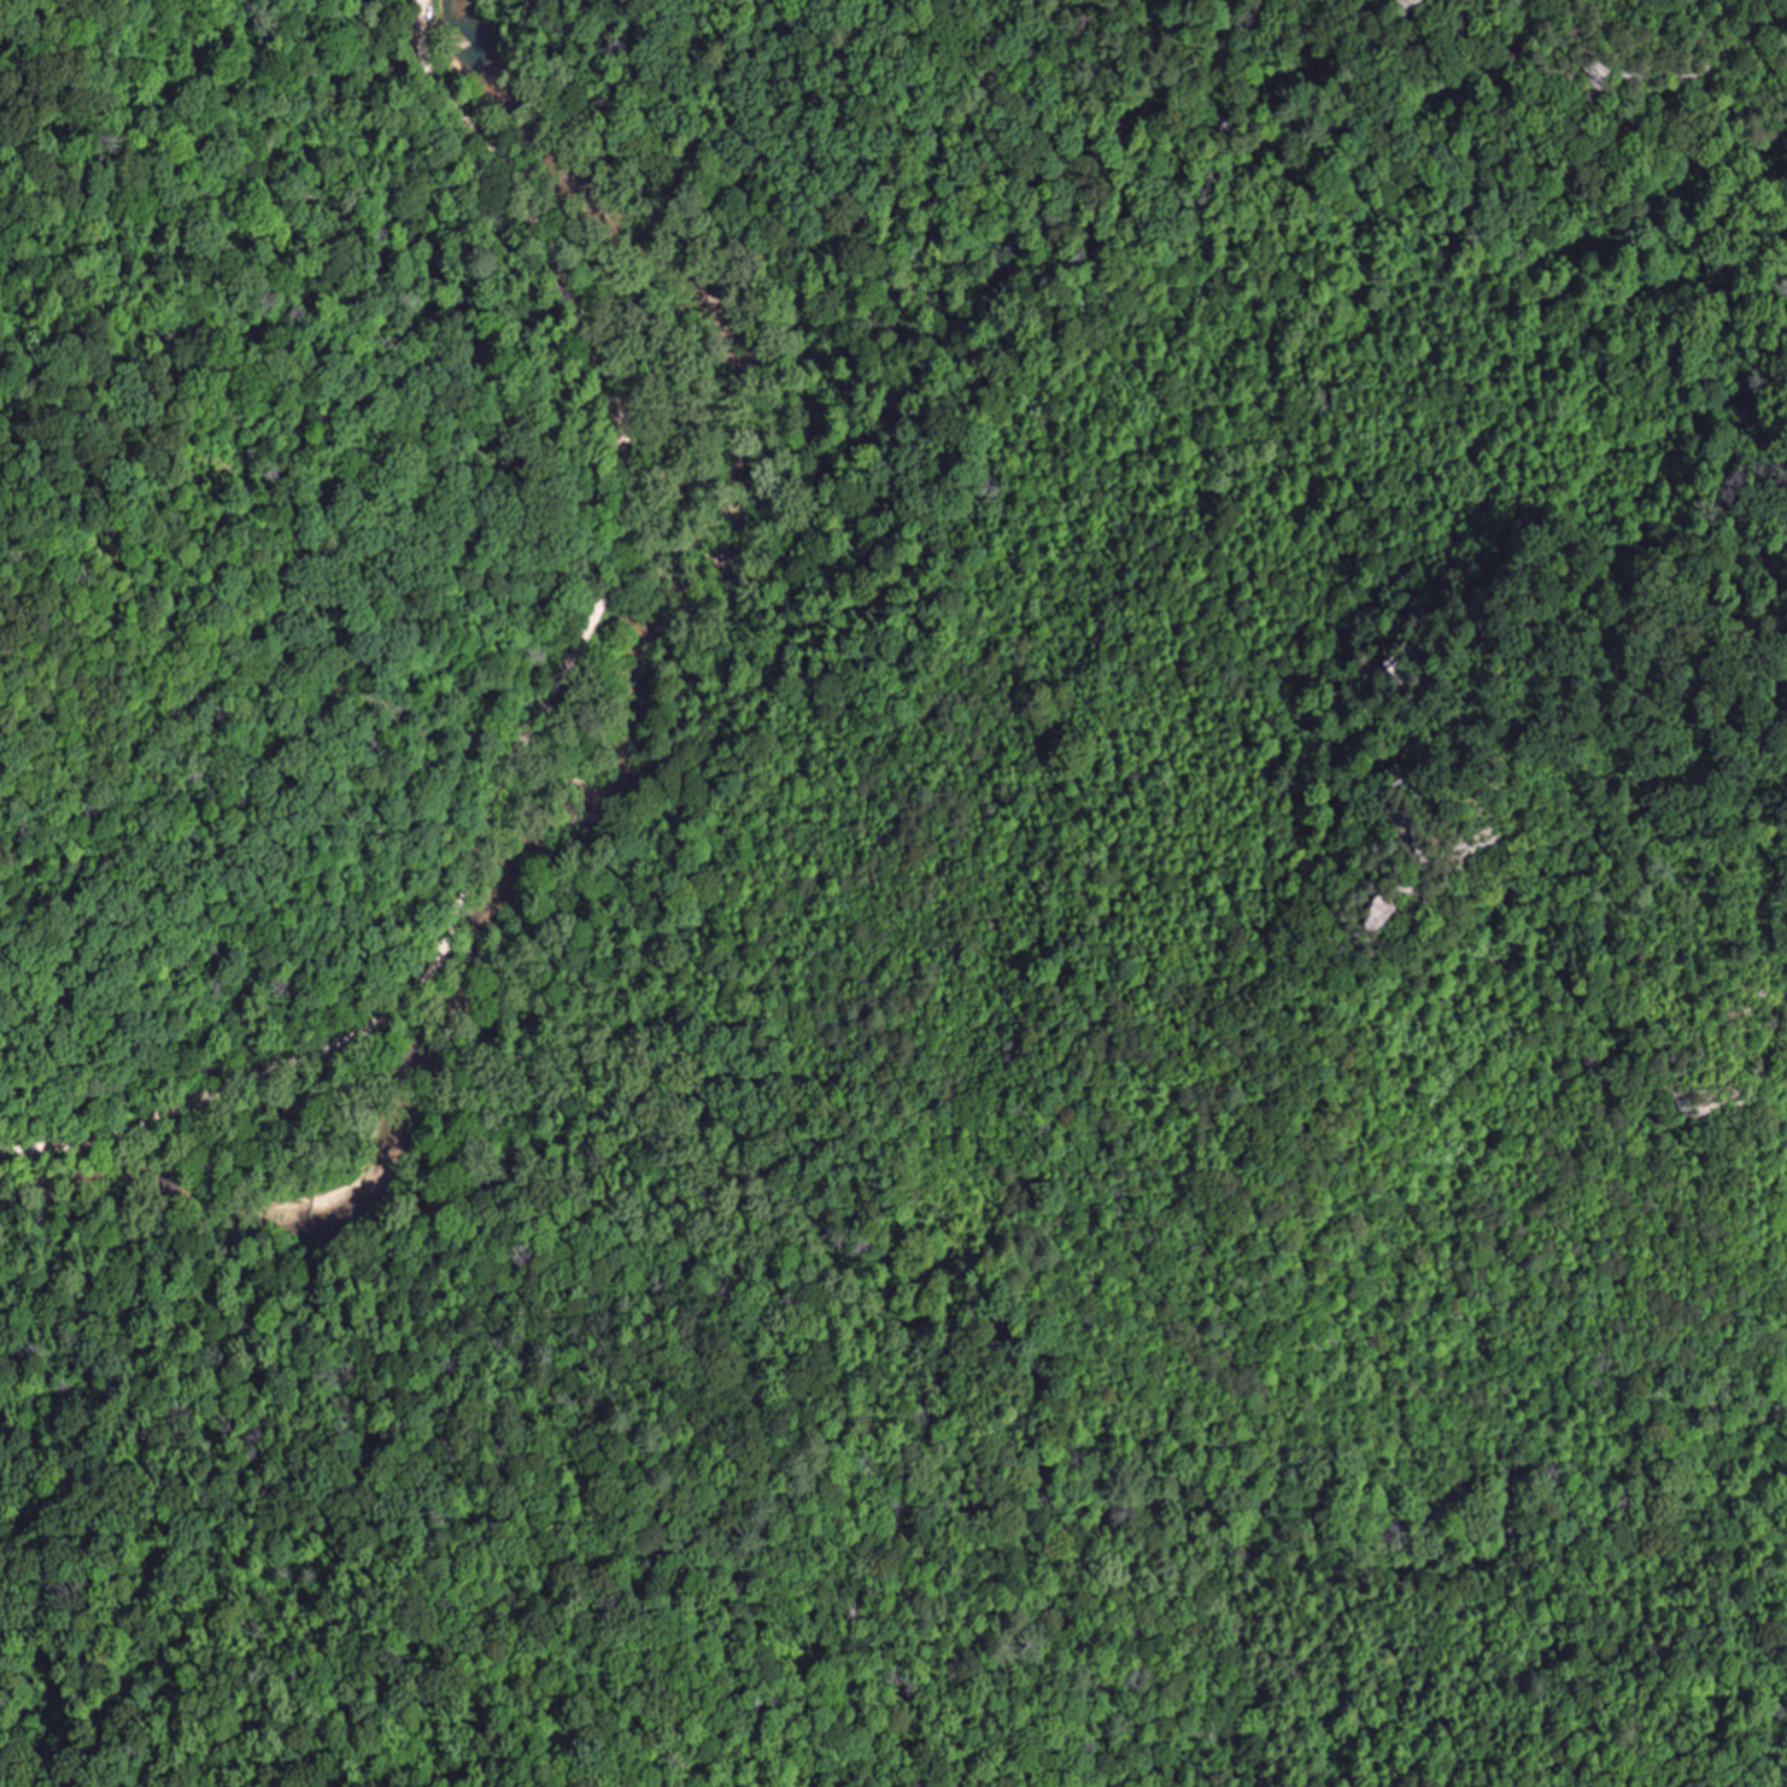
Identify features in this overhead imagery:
road: (541, 693)

